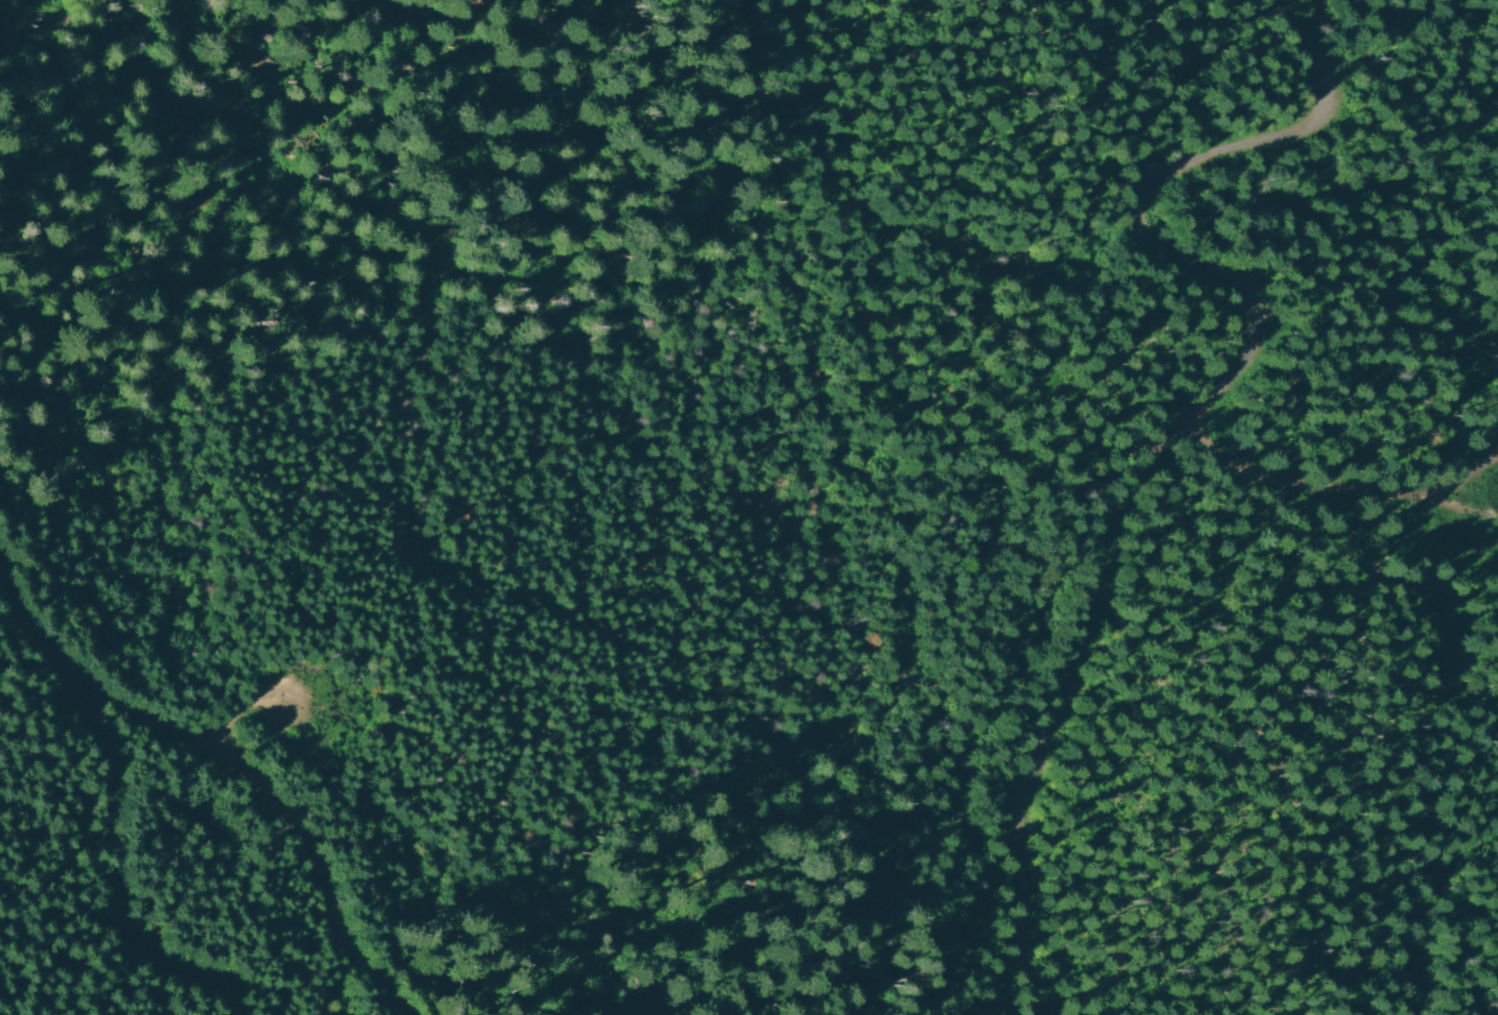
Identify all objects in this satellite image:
road: (1187, 415)
road: (1336, 493)
road: (220, 759)
road: (123, 873)

